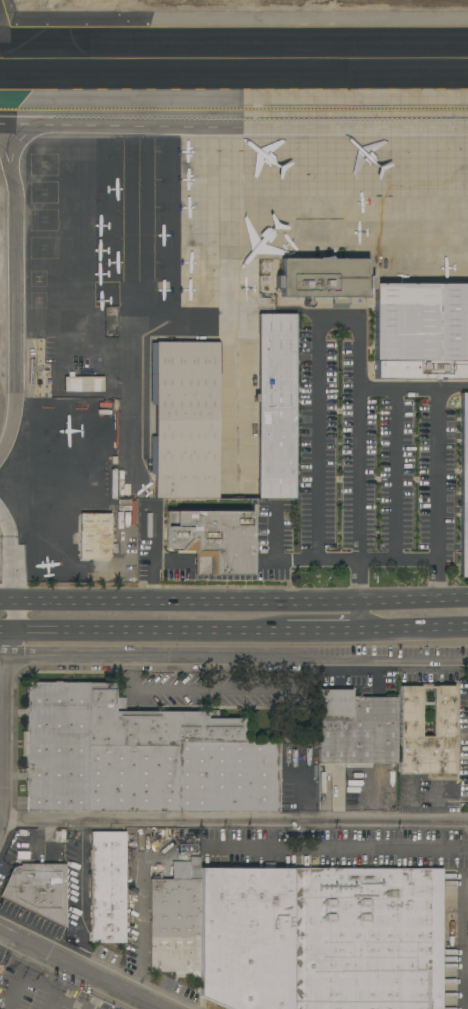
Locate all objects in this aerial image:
airport taxiway: (234, 62)
road: (84, 131)
helipad: (43, 164)
helipad: (43, 192)
airport: (189, 197)
helipad: (43, 220)
helipad: (43, 247)
helipad: (37, 278)
building: (324, 279)
helipad: (38, 300)
building: (421, 331)
building: (82, 383)
building: (276, 406)
building: (186, 420)
road: (436, 457)
road: (358, 460)
road: (396, 475)
road: (317, 479)
building: (464, 487)
building: (128, 515)
road: (5, 524)
building: (94, 536)
building: (212, 540)
road: (284, 559)
road: (223, 562)
road: (155, 563)
road: (12, 569)
road: (186, 601)
road: (412, 601)
road: (8, 602)
road: (17, 617)
road: (316, 618)
road: (370, 631)
road: (0, 632)
road: (9, 633)
road: (145, 633)
road: (1, 645)
road: (0, 656)
road: (234, 657)
road: (217, 690)
parking lot: (212, 694)
building: (408, 720)
building: (356, 729)
road: (1, 737)
building: (69, 746)
building: (158, 761)
building: (239, 770)
road: (234, 818)
building: (15, 844)
road: (252, 844)
road: (366, 848)
building: (107, 887)
building: (39, 890)
building: (302, 936)
road: (141, 948)
road: (82, 968)
road: (98, 994)

